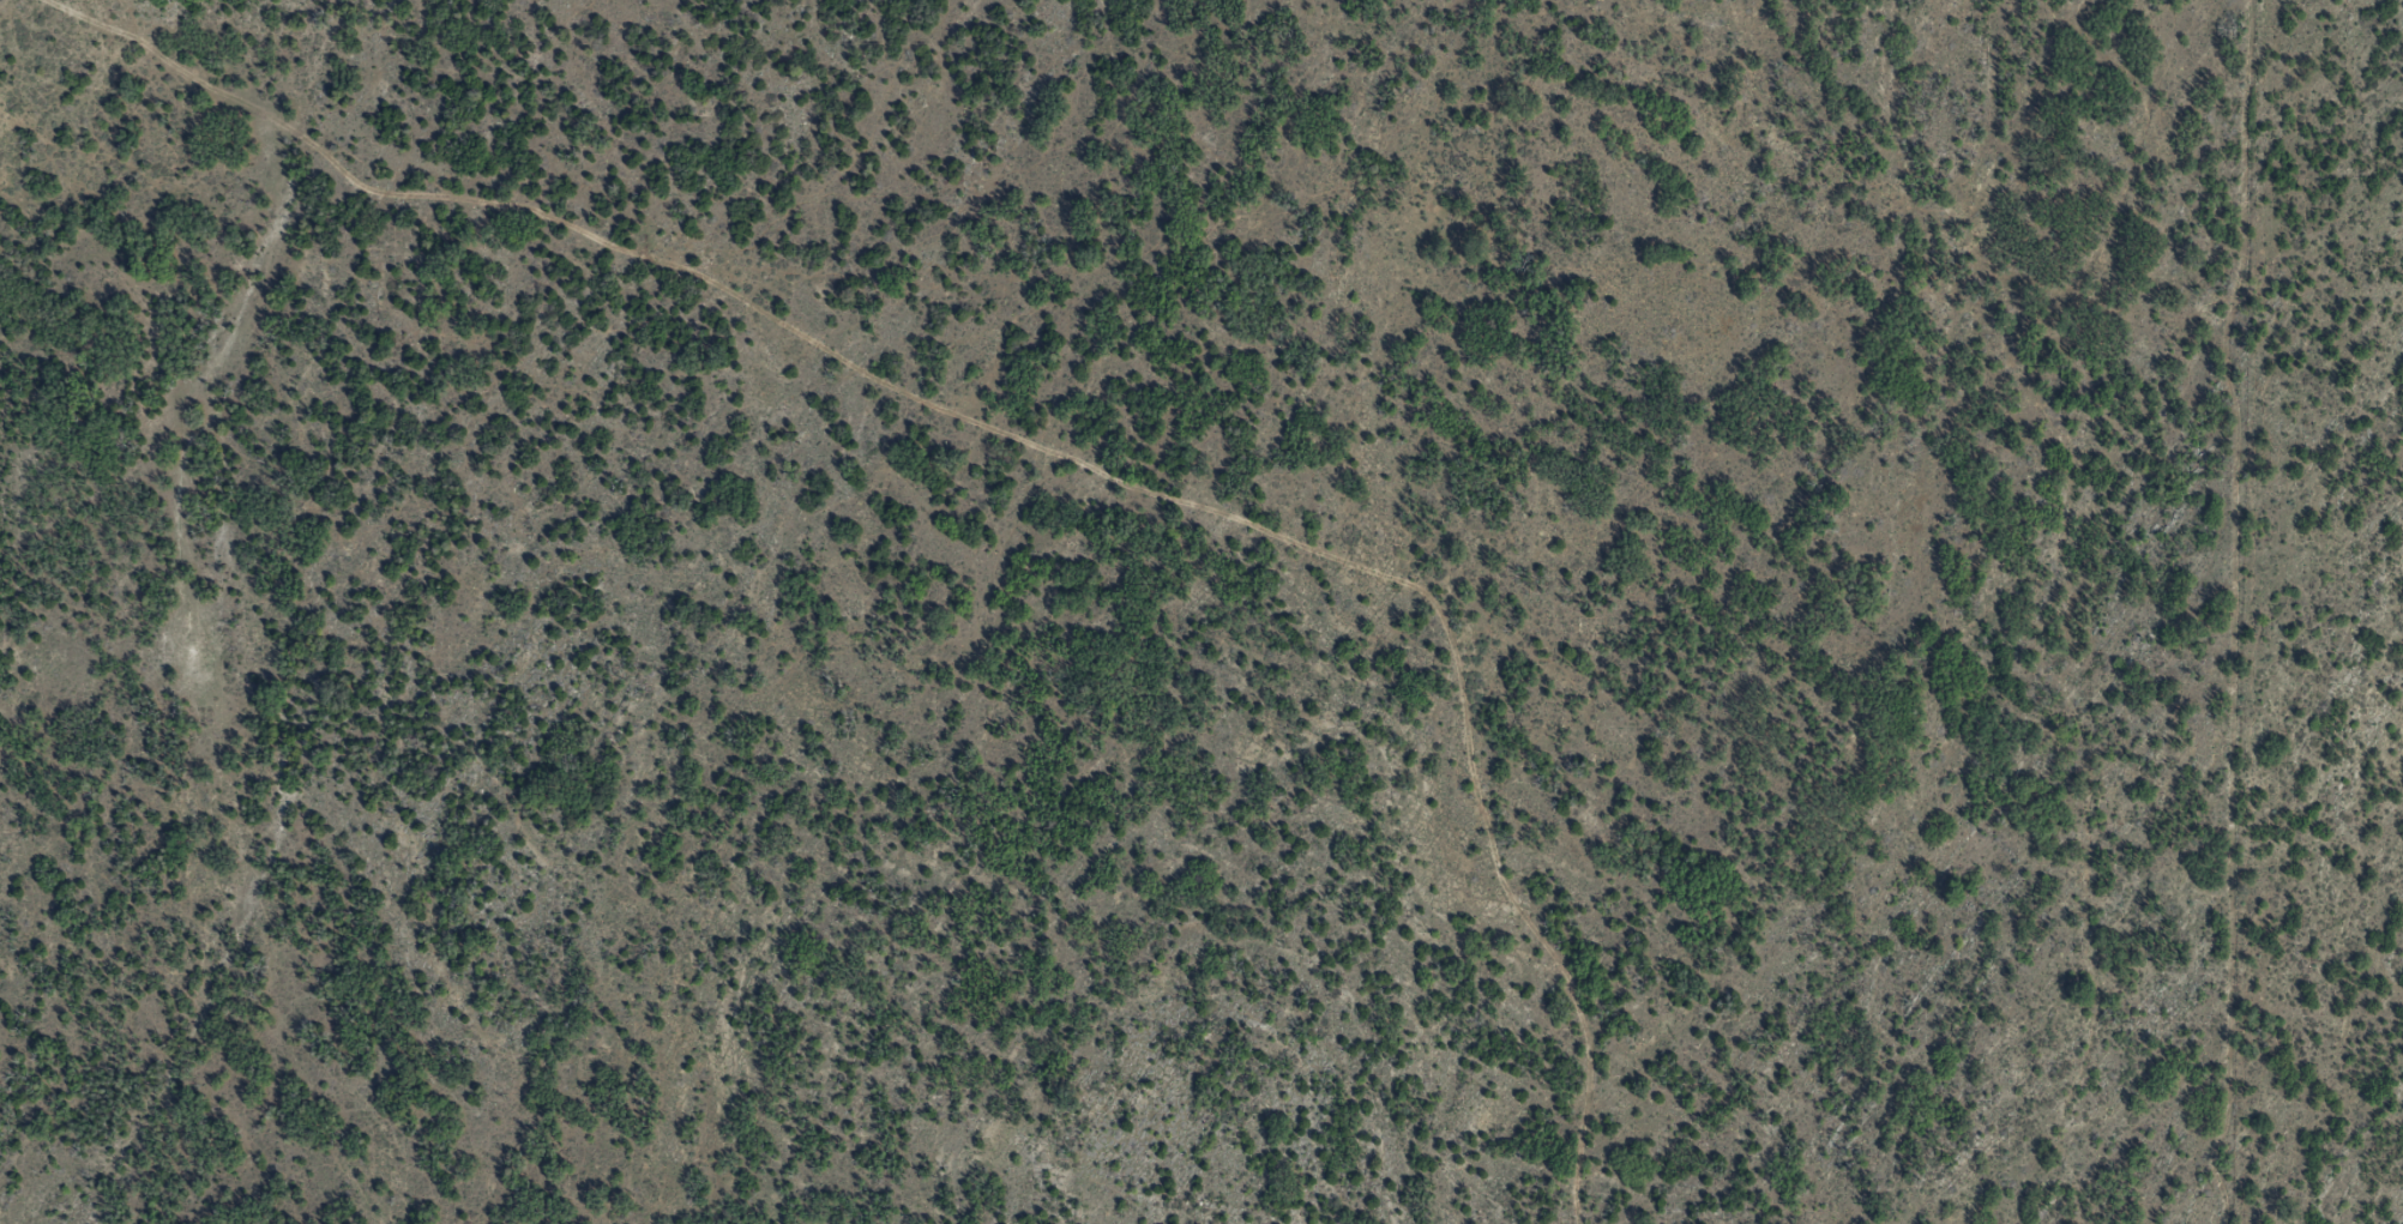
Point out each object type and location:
road: (532, 218)
road: (1499, 712)

